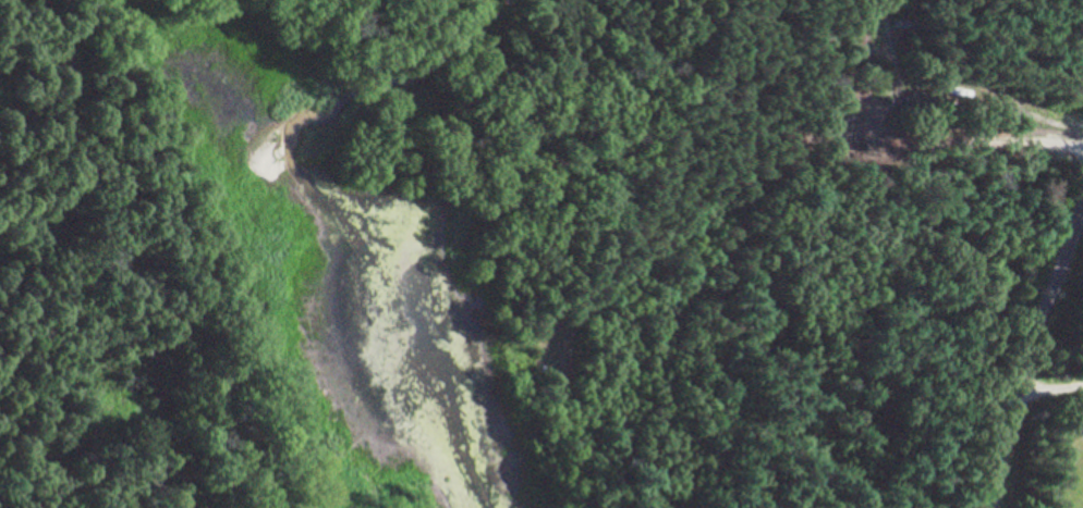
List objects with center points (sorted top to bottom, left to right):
road: (1035, 325)

